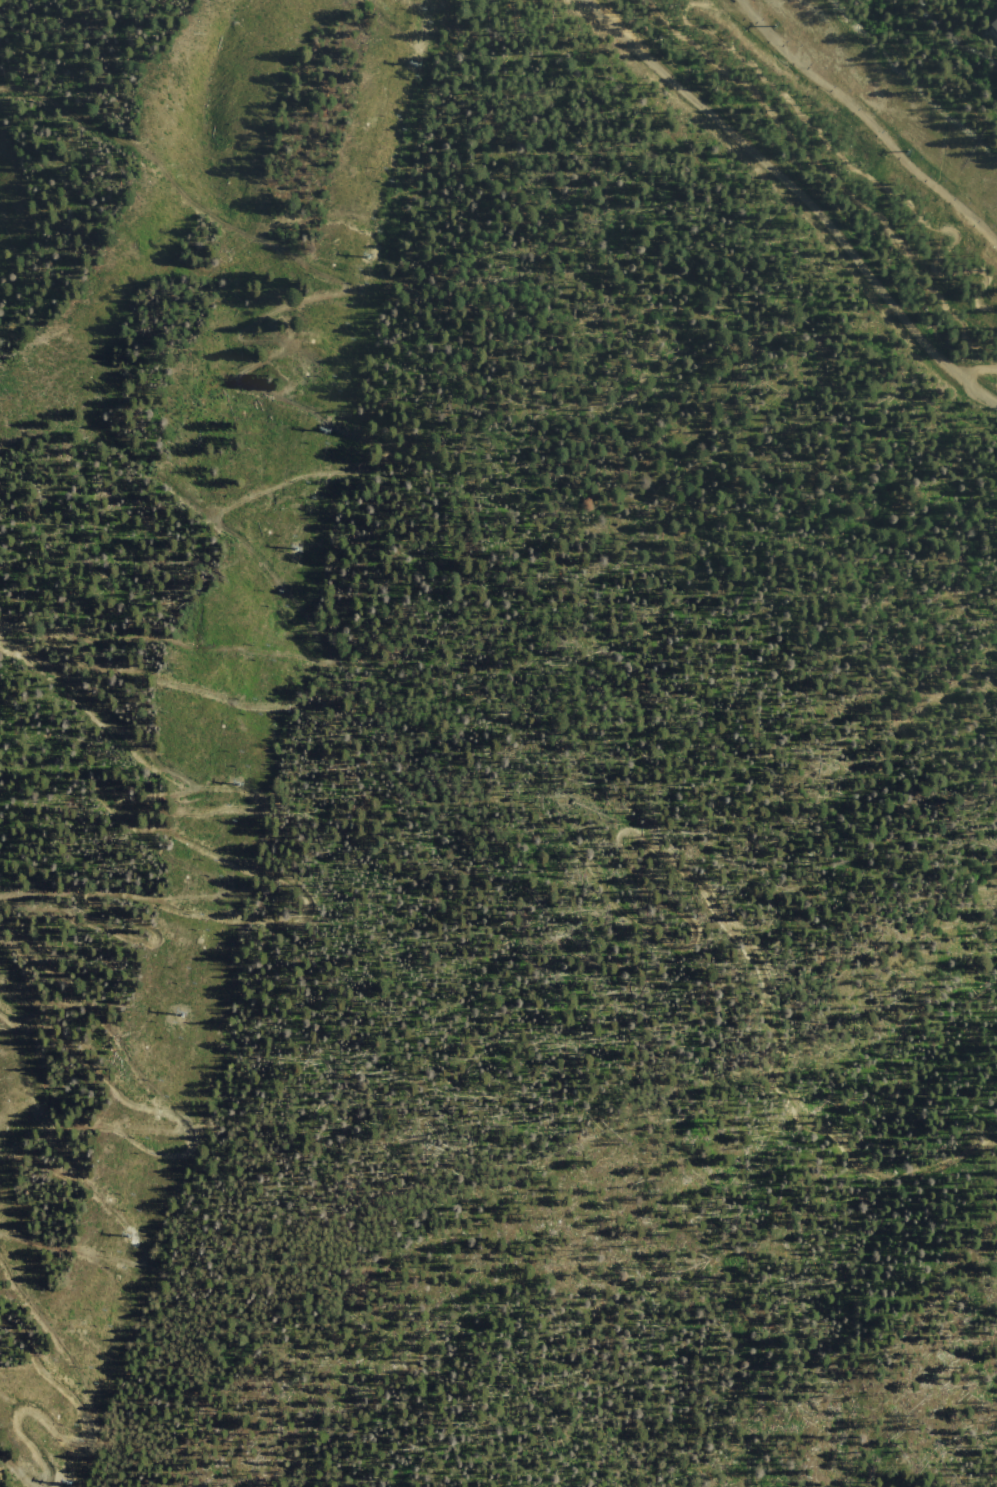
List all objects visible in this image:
aerialway pylon: (774, 24)
building: (994, 25)
aerialway pylon: (413, 63)
aerialway pylon: (908, 151)
road: (792, 190)
aerialway pylon: (366, 256)
aerialway pylon: (325, 430)
aerialway pylon: (296, 547)
road: (235, 651)
road: (88, 696)
ski resort: (495, 747)
road: (97, 777)
aerialway pylon: (239, 783)
road: (704, 920)
road: (56, 984)
aerialway pylon: (184, 1014)
road: (101, 1126)
aerialway pylon: (131, 1234)
road: (60, 1435)
aerialway pylon: (71, 1483)

